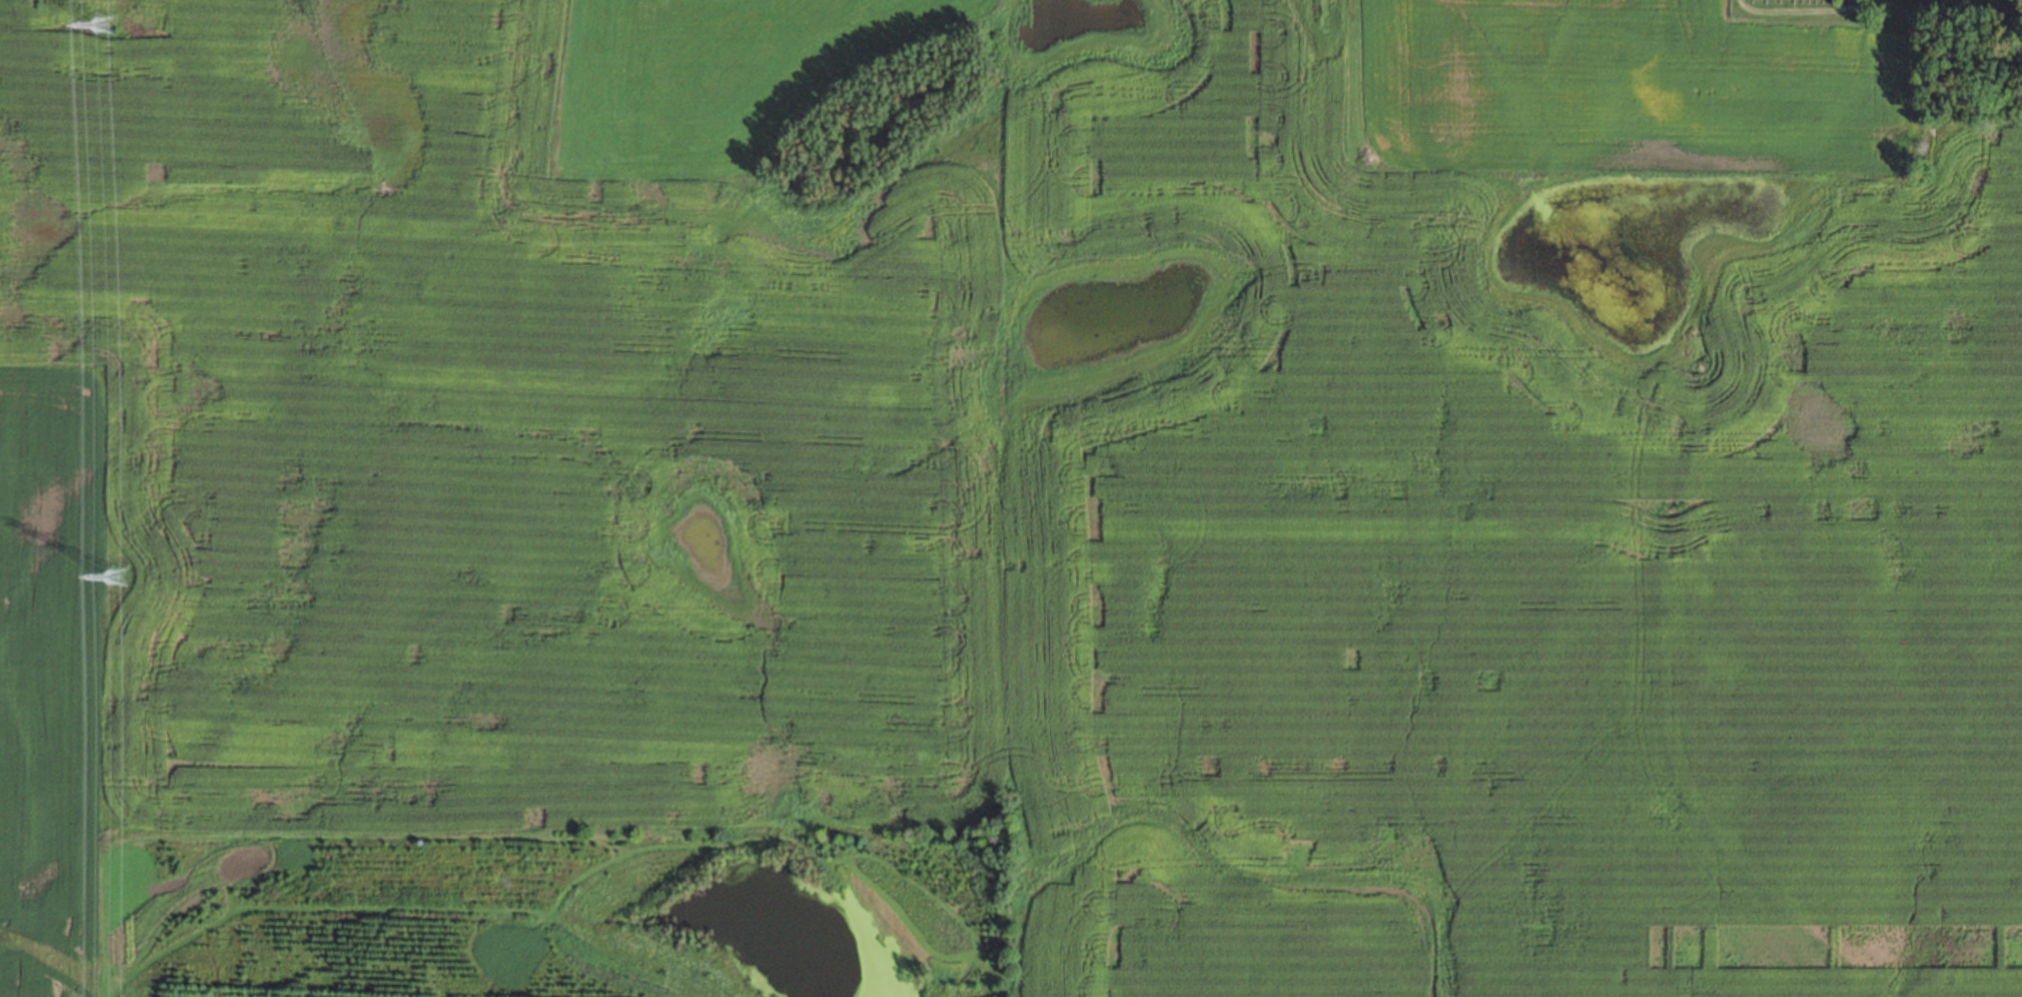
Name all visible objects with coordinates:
power tower: (104, 21)
power tower: (116, 576)

